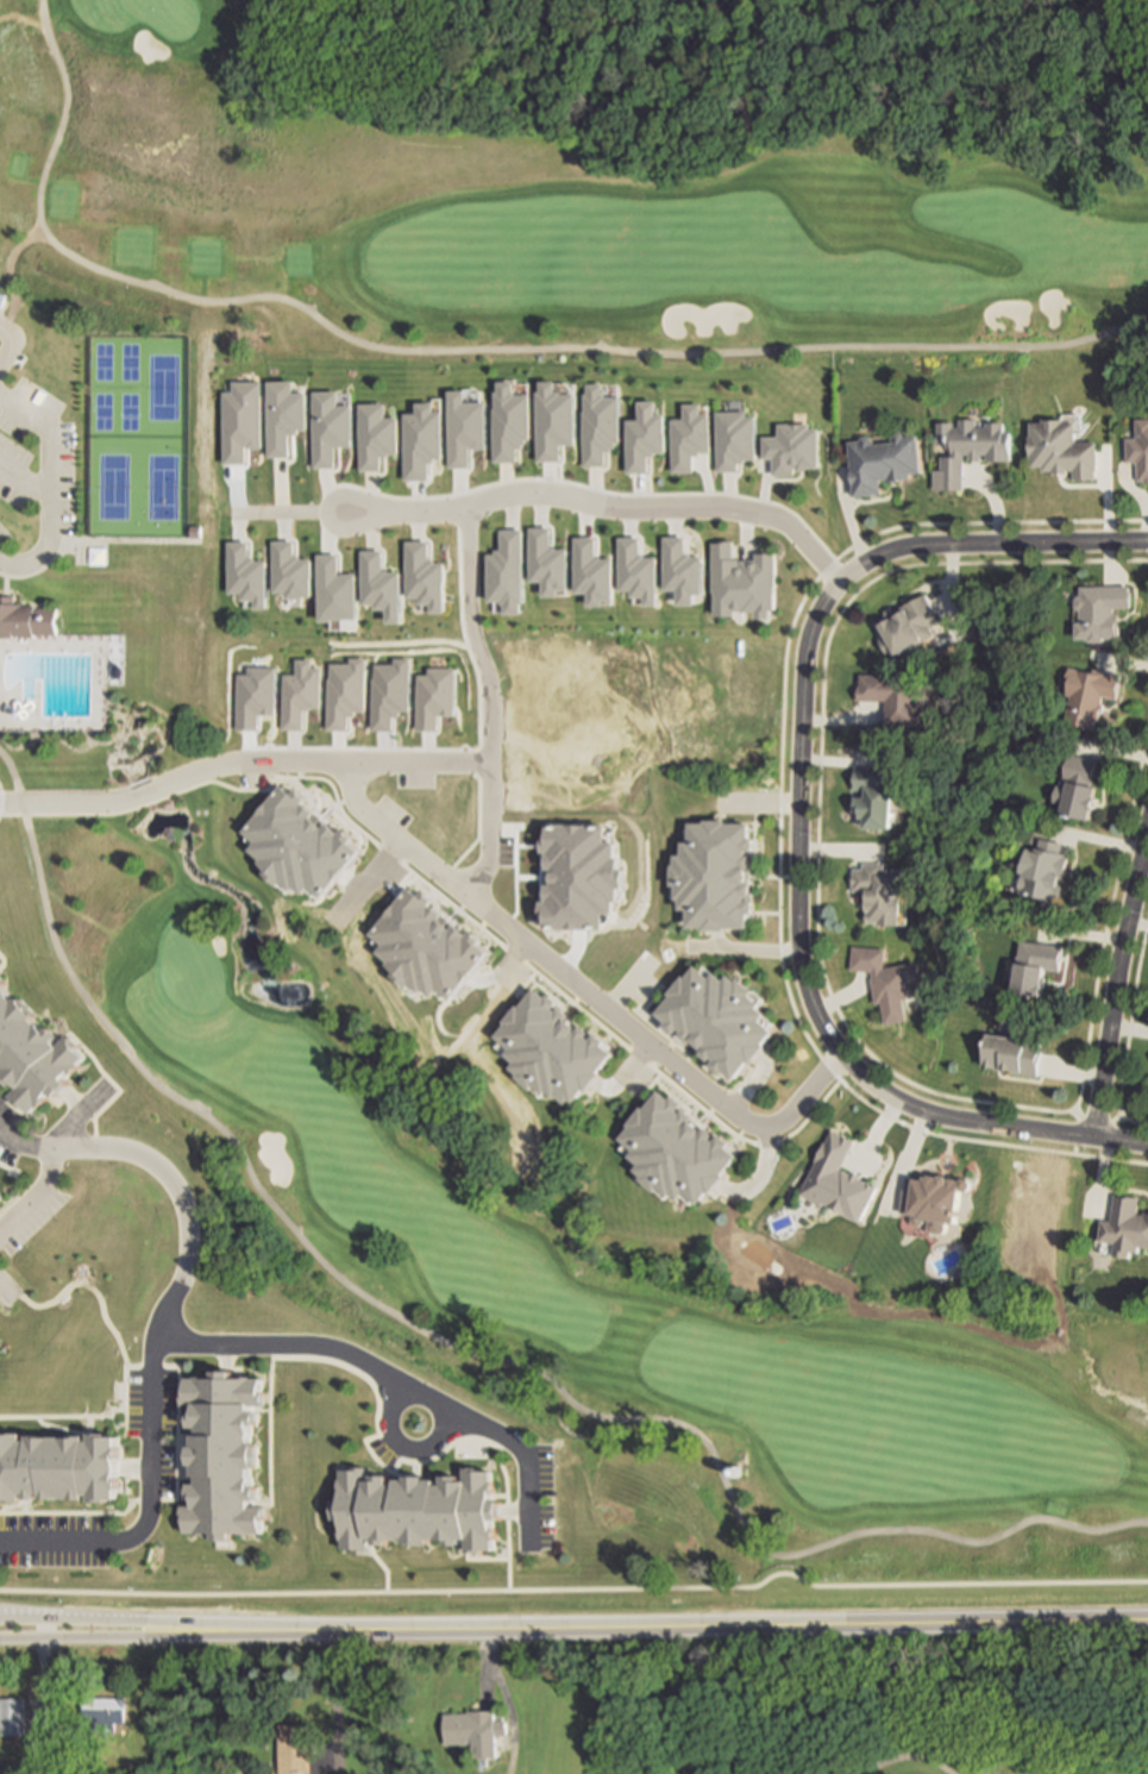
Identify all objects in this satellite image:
park: (162, 18)
parking lot: (1, 305)
road: (7, 334)
road: (7, 351)
road: (460, 351)
park: (109, 388)
park: (161, 388)
building: (553, 422)
building: (509, 424)
building: (600, 426)
building: (464, 428)
building: (689, 438)
building: (734, 439)
building: (644, 441)
building: (967, 443)
building: (1058, 443)
building: (1138, 443)
building: (792, 449)
building: (882, 460)
parking lot: (31, 464)
road: (23, 481)
road: (45, 484)
park: (109, 488)
park: (161, 488)
road: (619, 508)
road: (281, 512)
road: (324, 512)
road: (88, 540)
road: (986, 541)
building: (547, 563)
building: (682, 571)
building: (636, 572)
building: (507, 573)
building: (592, 573)
building: (742, 582)
road: (1, 583)
park: (105, 600)
building: (1102, 609)
building: (24, 620)
building: (910, 622)
building: (892, 692)
building: (1091, 692)
road: (485, 706)
road: (360, 765)
building: (1080, 786)
building: (877, 795)
road: (119, 798)
road: (797, 821)
building: (299, 841)
building: (1047, 866)
building: (715, 873)
building: (883, 891)
building: (426, 946)
building: (1039, 965)
park: (188, 971)
road: (1115, 972)
building: (889, 979)
road: (582, 992)
building: (719, 1018)
building: (551, 1046)
building: (1015, 1053)
building: (31, 1054)
road: (959, 1118)
road: (1121, 1140)
building: (677, 1149)
road: (33, 1190)
building: (936, 1199)
building: (1127, 1225)
road: (157, 1331)
road: (313, 1346)
road: (465, 1352)
road: (403, 1448)
road: (528, 1450)
building: (227, 1459)
building: (420, 1513)
road: (155, 1621)
road: (729, 1624)
road: (156, 1636)
road: (334, 1693)
building: (103, 1711)
park: (826, 1711)
building: (12, 1715)
building: (475, 1729)
building: (294, 1748)
road: (904, 1757)

